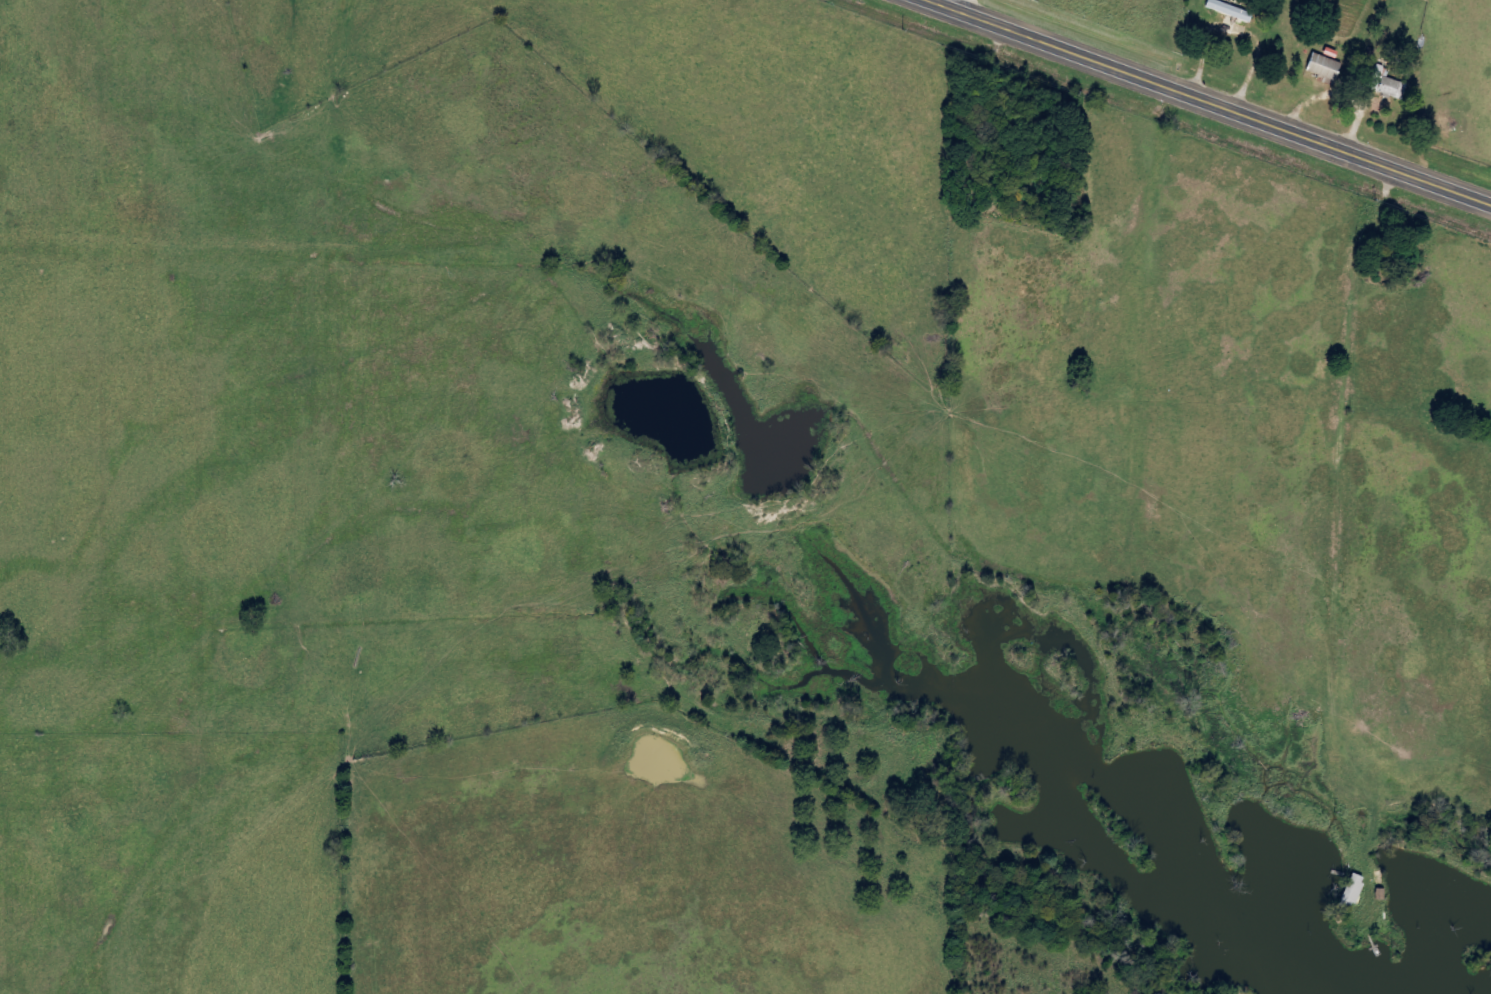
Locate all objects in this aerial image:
building: (1230, 9)
building: (1325, 66)
building: (1387, 83)
road: (1204, 103)
road: (540, 243)
building: (1354, 889)

